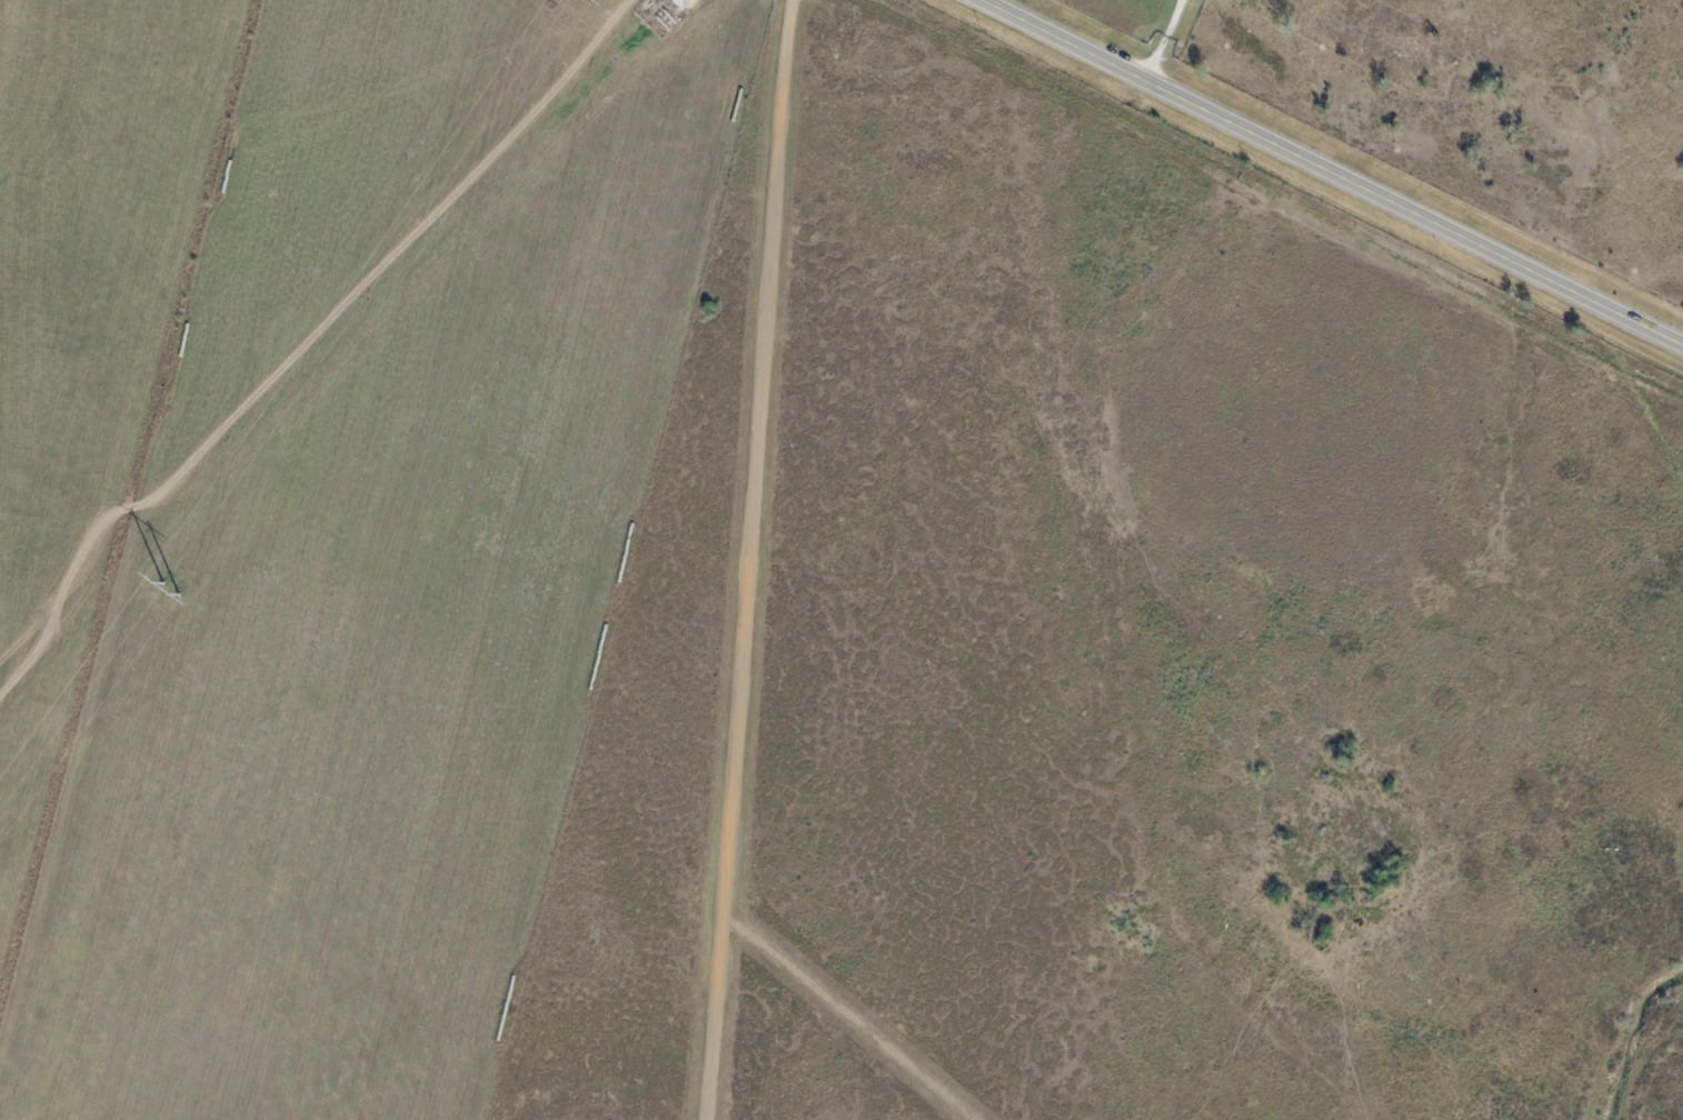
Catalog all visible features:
road: (1335, 169)
road: (750, 559)
power tower: (180, 581)

